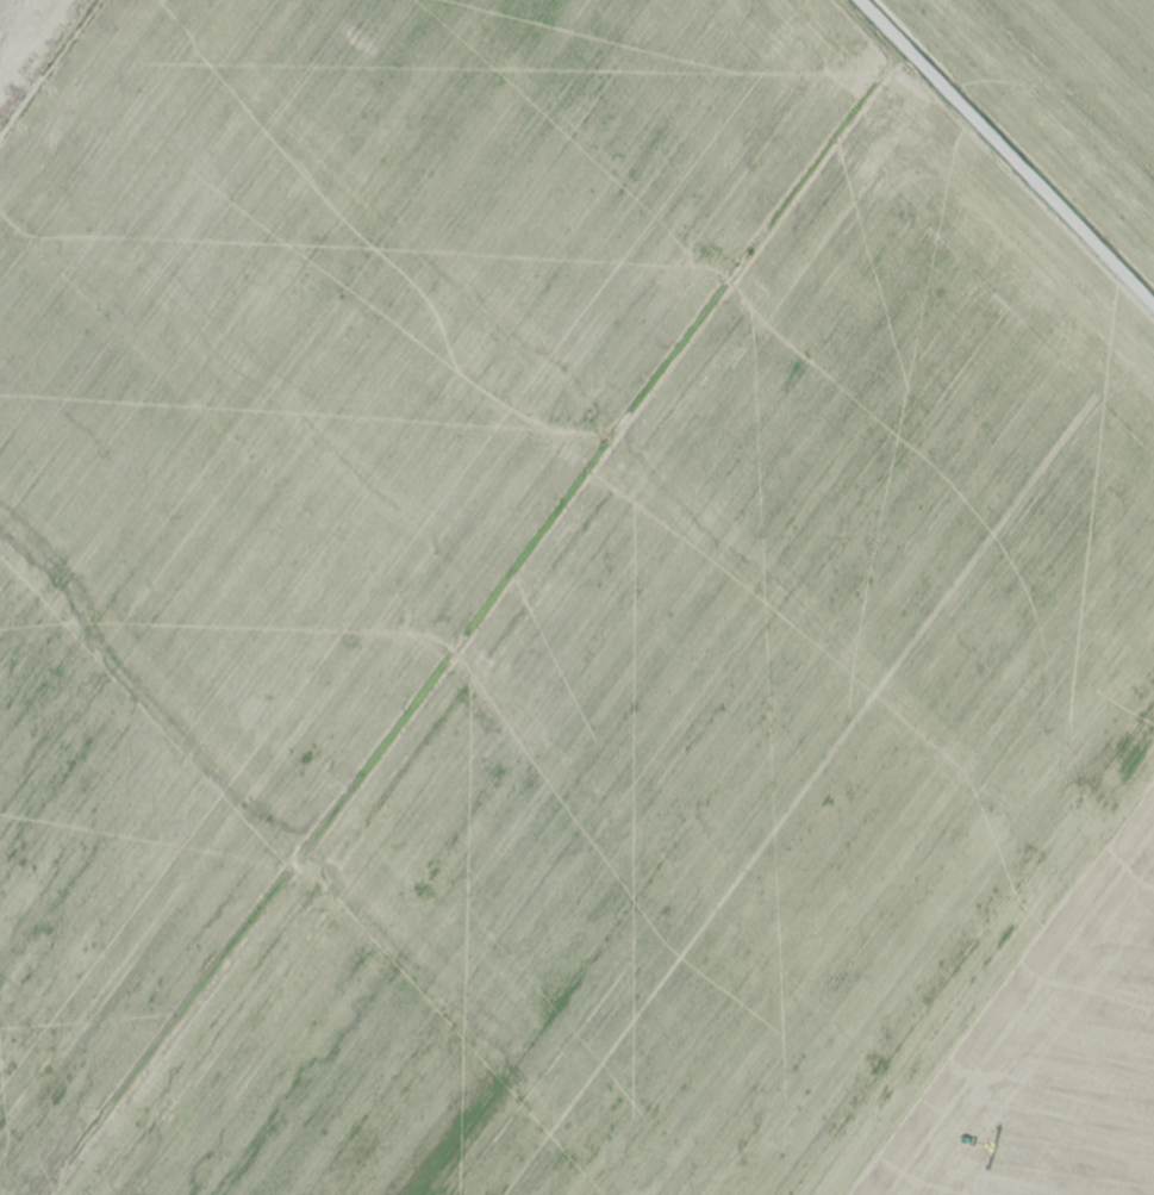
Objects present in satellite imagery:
road: (936, 76)
road: (1081, 230)

